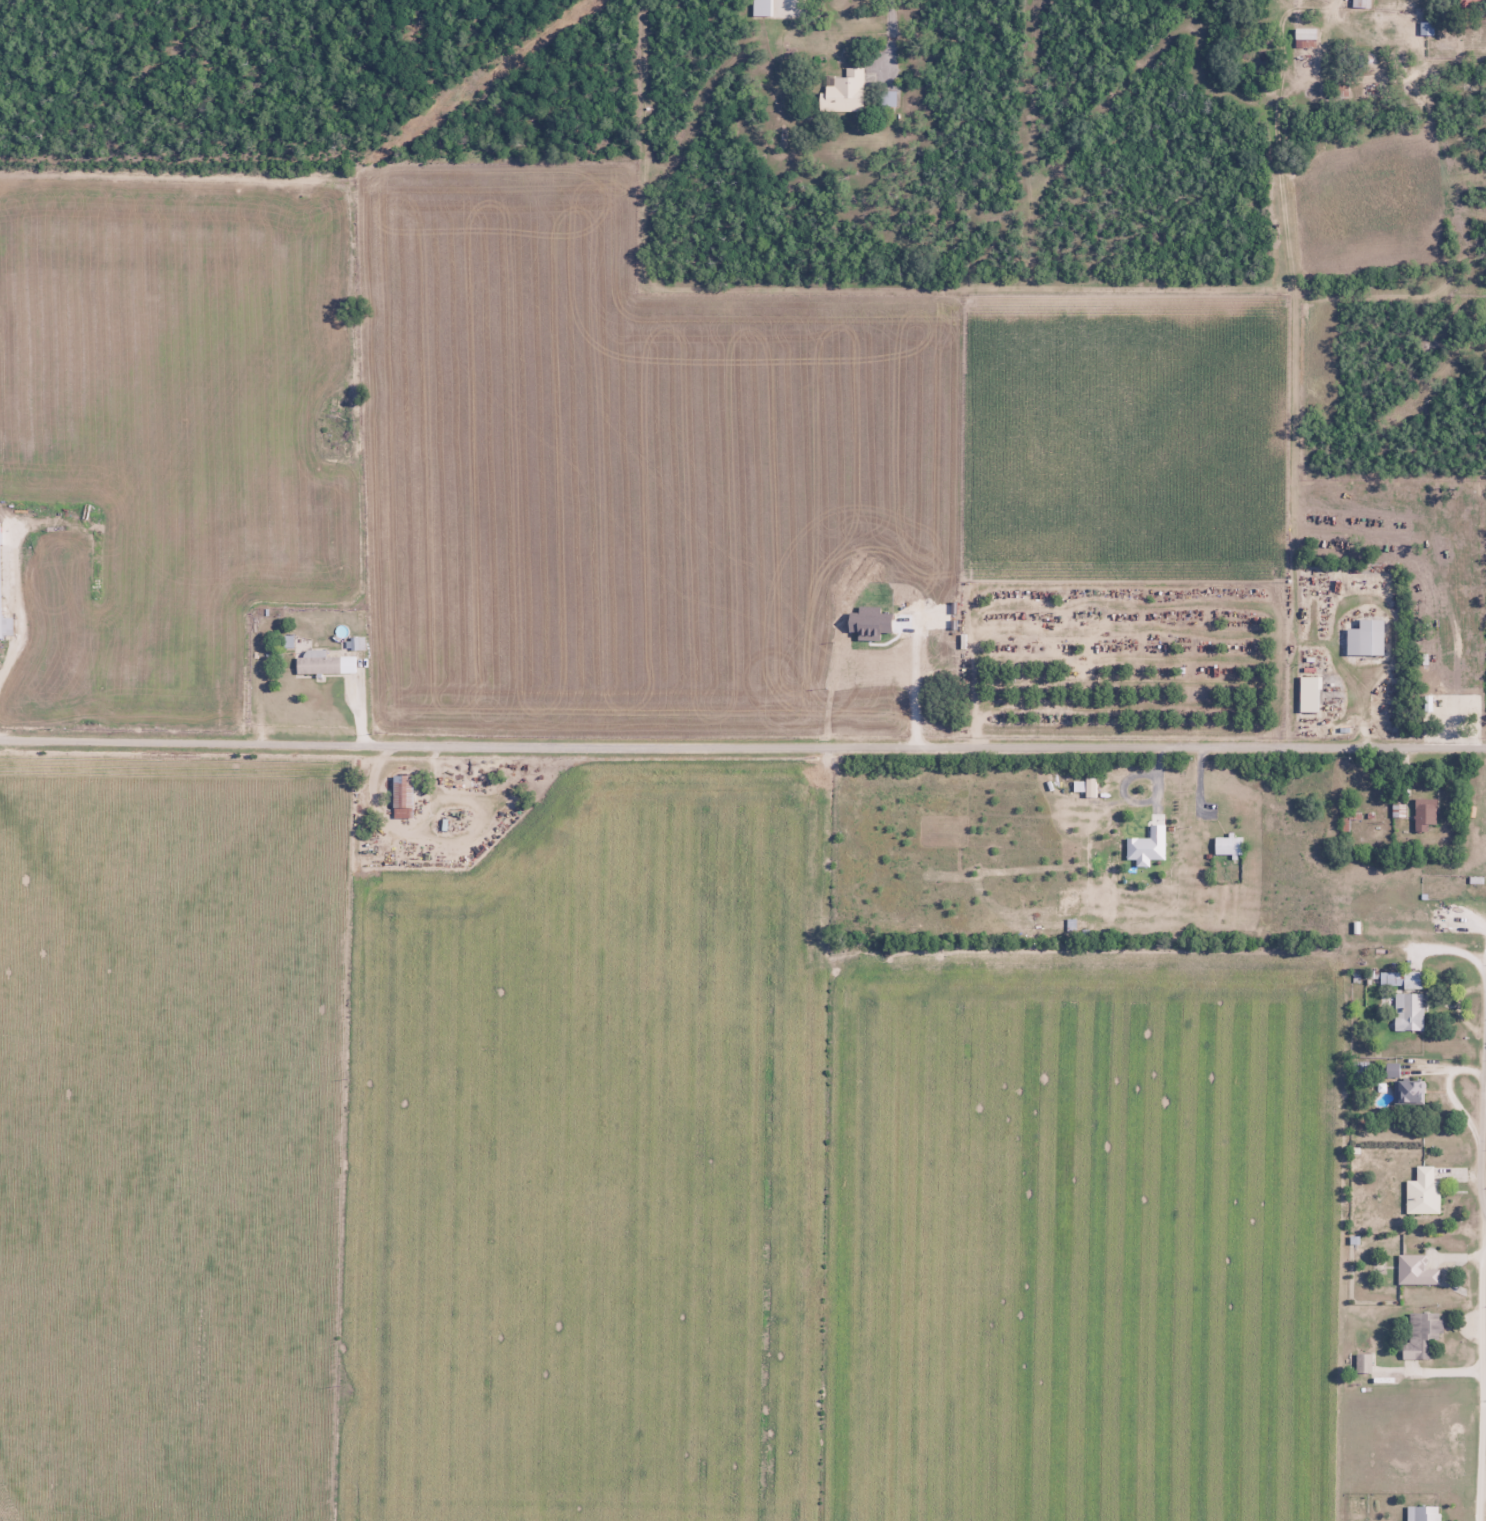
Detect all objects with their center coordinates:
building: (1470, 1)
building: (1360, 3)
building: (761, 8)
road: (891, 33)
building: (1304, 33)
building: (845, 92)
building: (1364, 637)
road: (9, 663)
building: (323, 664)
building: (1308, 693)
road: (742, 747)
building: (401, 795)
building: (1424, 813)
building: (1227, 845)
road: (1482, 968)
building: (1400, 979)
building: (1408, 1011)
building: (1409, 1091)
road: (1484, 1159)
building: (1422, 1192)
building: (1415, 1270)
building: (1421, 1333)
building: (1363, 1363)
building: (1426, 1513)

